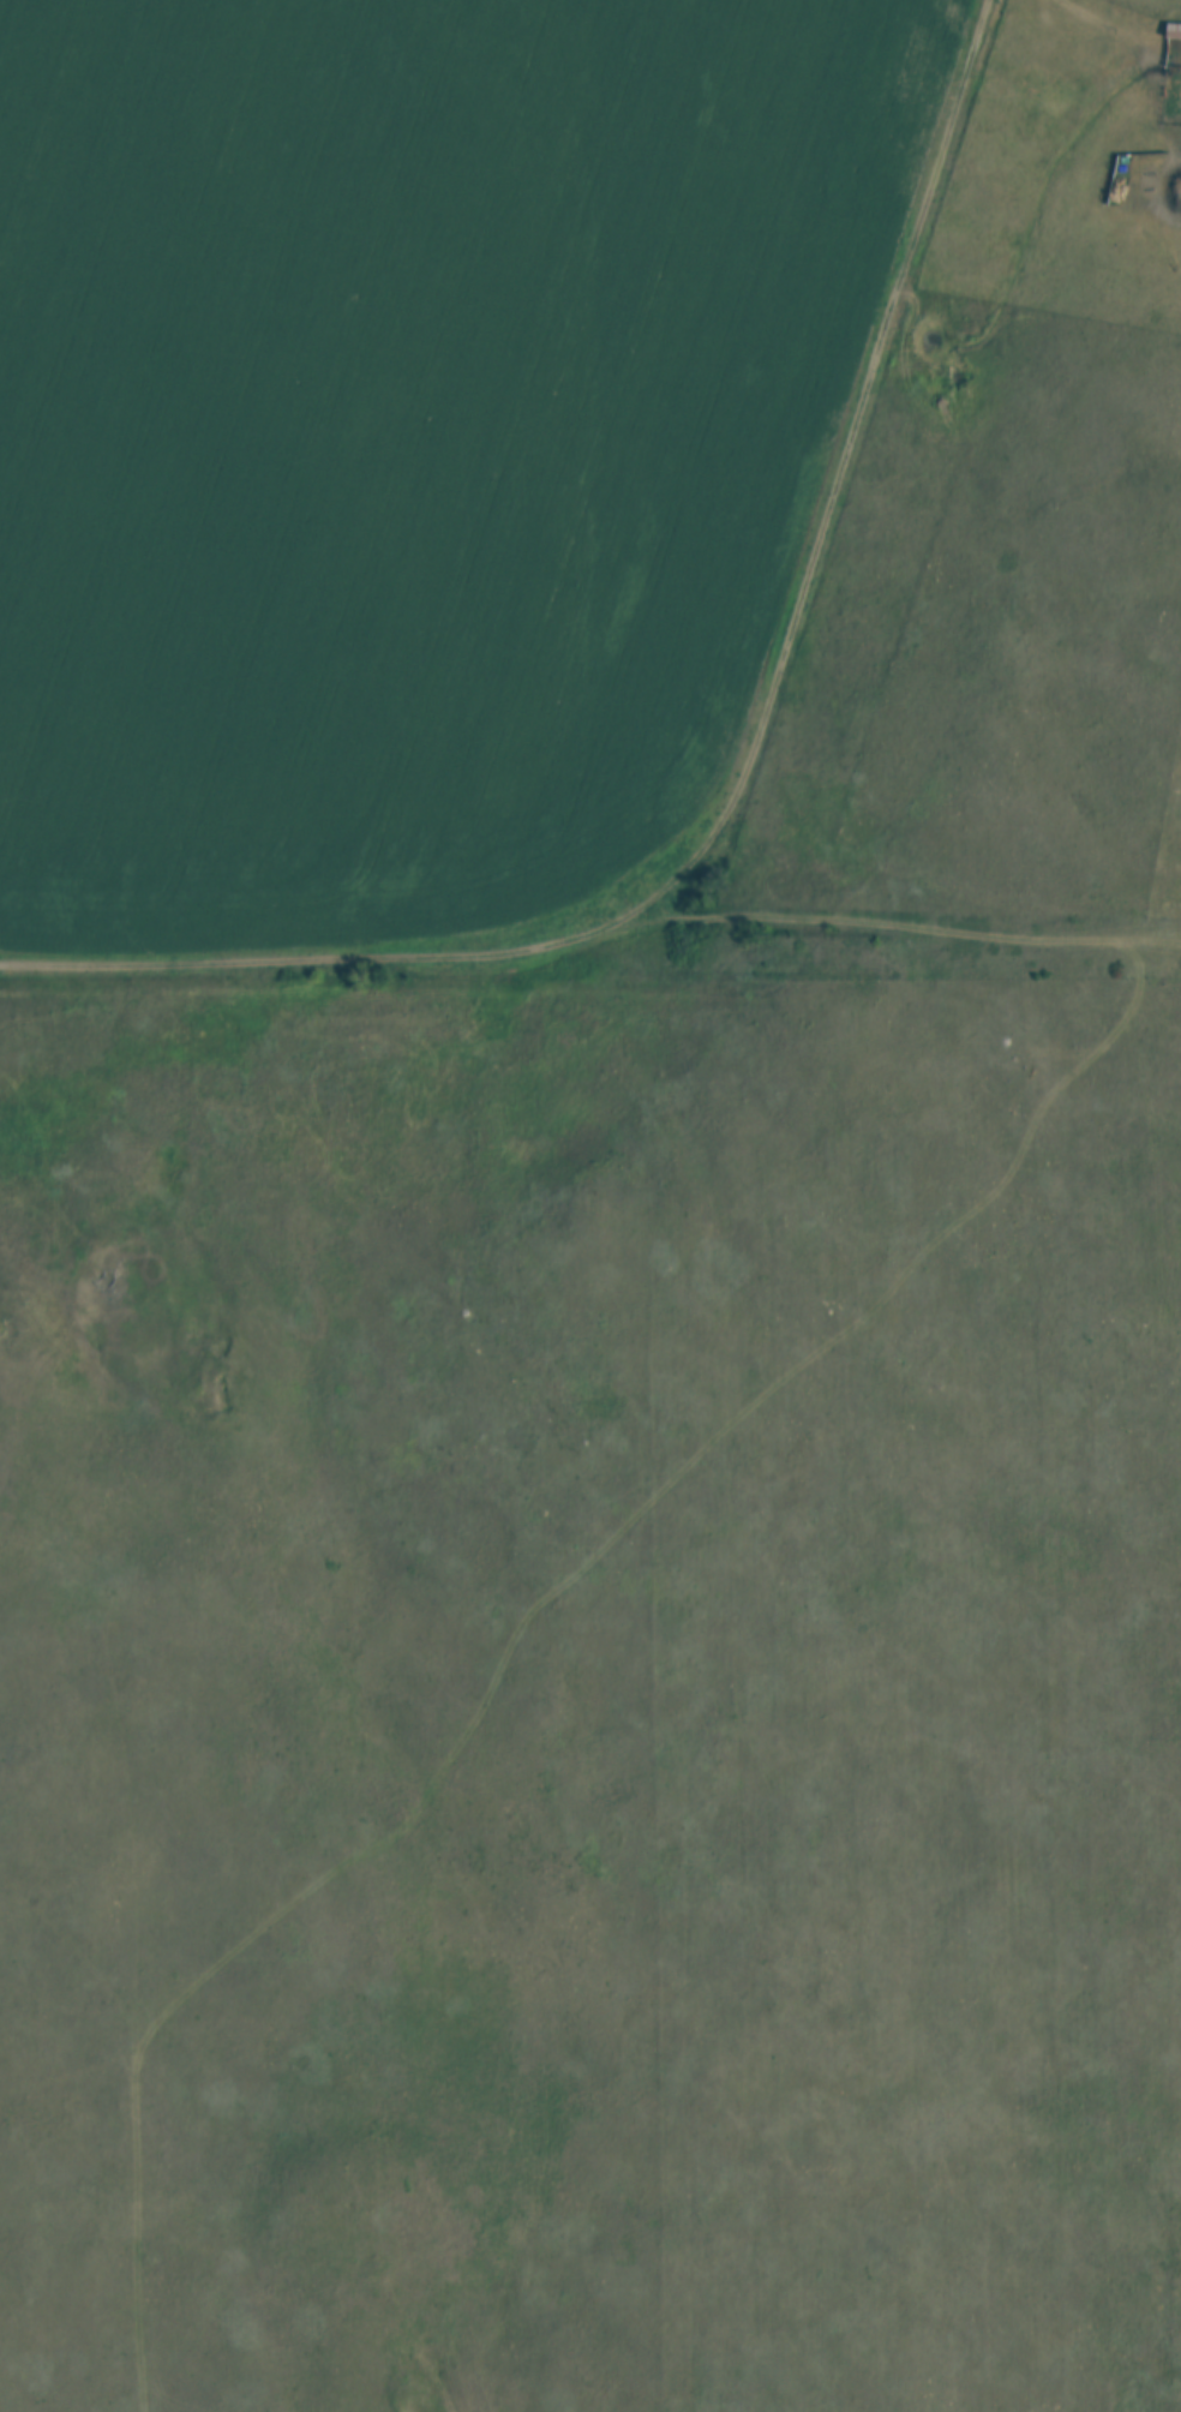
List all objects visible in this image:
building: (1174, 30)
road: (742, 778)
road: (881, 936)

